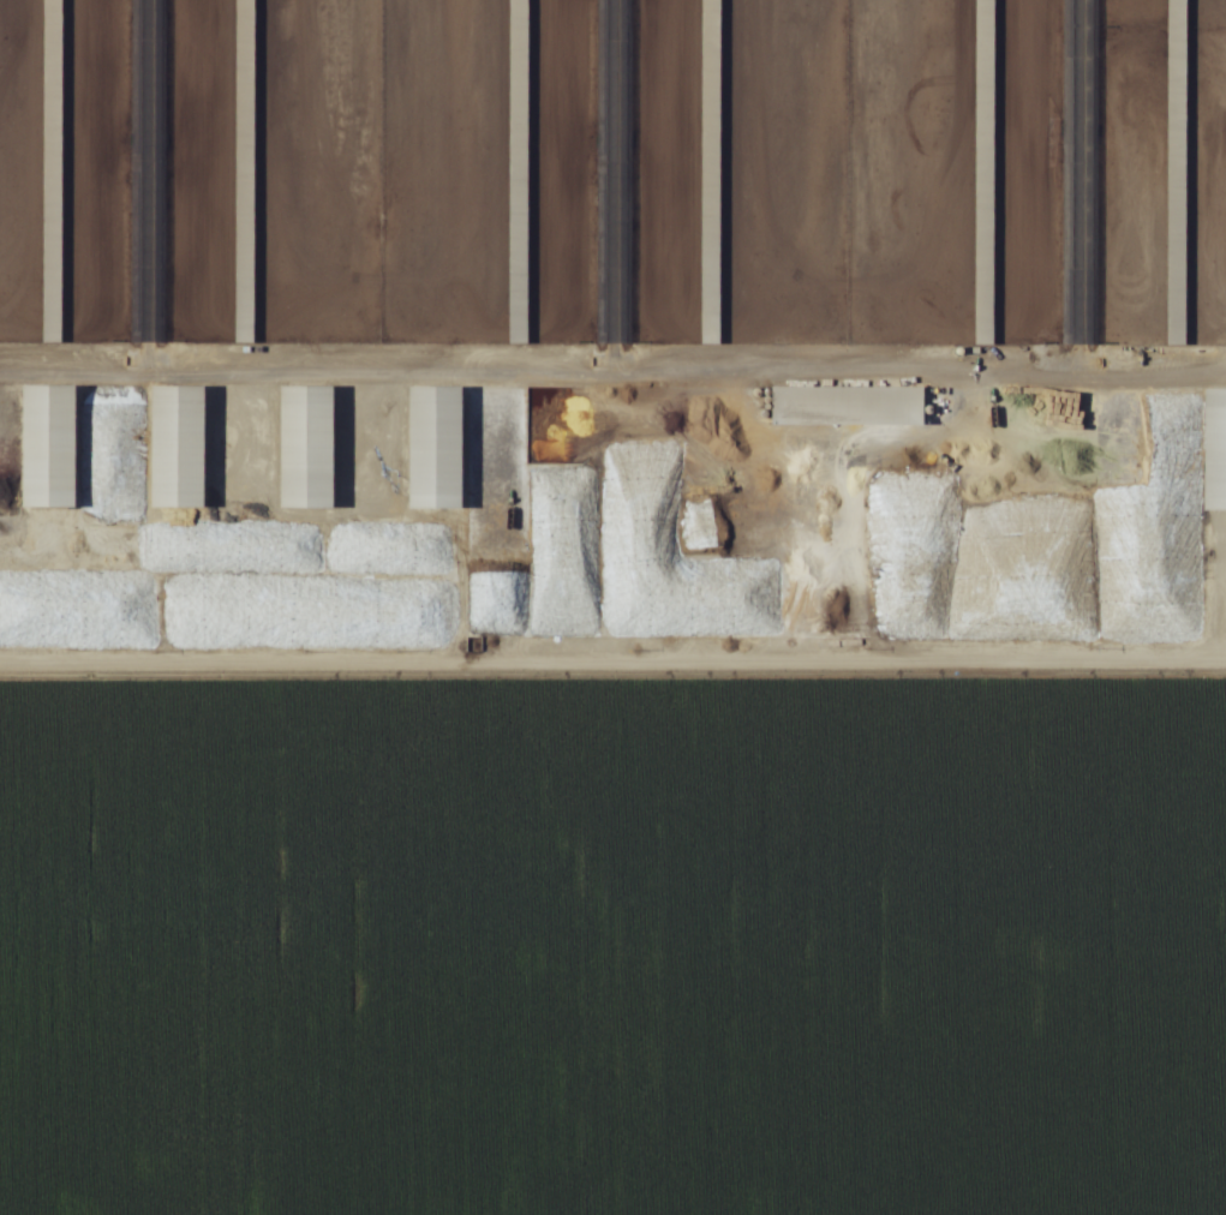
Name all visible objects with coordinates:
building: (518, 49)
building: (710, 58)
building: (52, 172)
building: (244, 173)
building: (982, 173)
building: (1174, 173)
building: (516, 252)
building: (708, 275)
road: (294, 337)
building: (845, 407)
building: (48, 448)
building: (178, 448)
building: (306, 448)
building: (437, 449)
building: (1215, 450)
building: (968, 550)
road: (612, 674)

